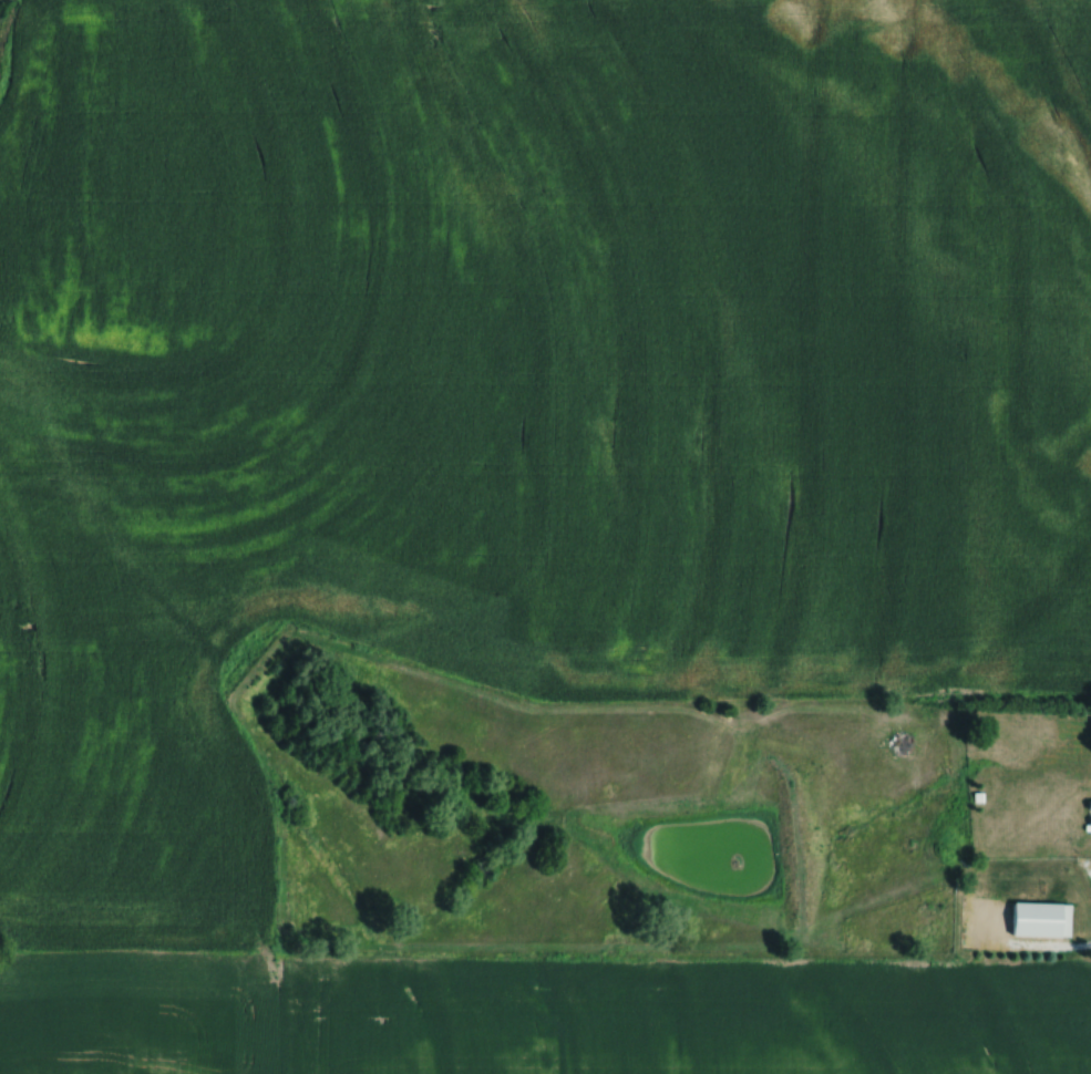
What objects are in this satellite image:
building: (1090, 720)
building: (1036, 920)

